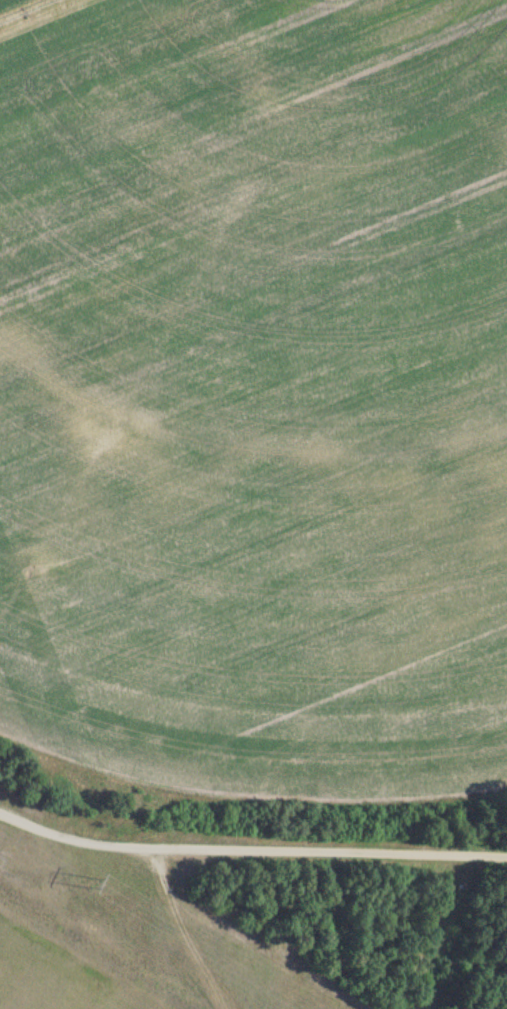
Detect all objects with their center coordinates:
wastewater plant: (265, 458)
power tower: (90, 880)

